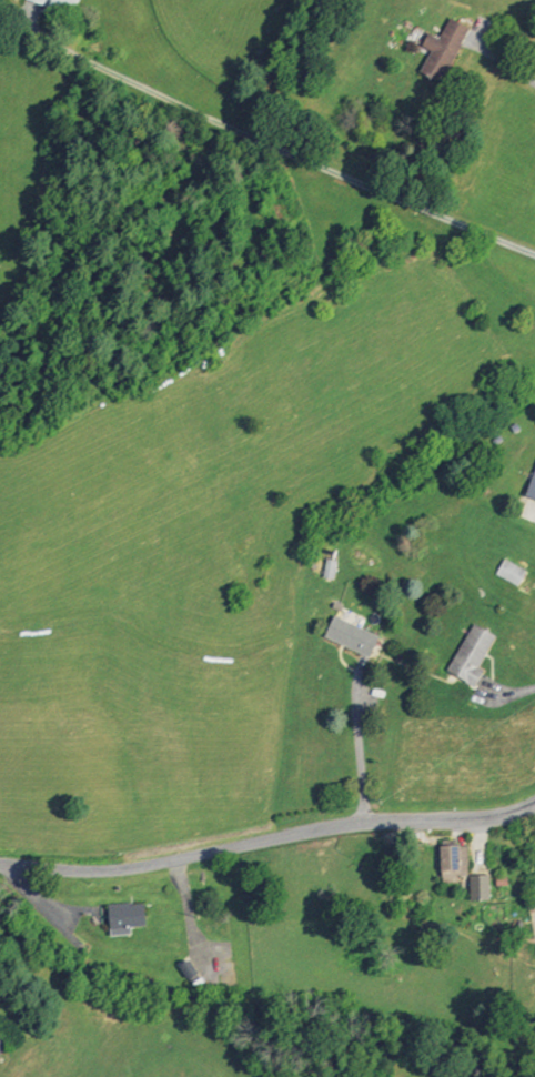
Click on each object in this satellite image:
building: (40, 1)
building: (60, 3)
building: (444, 47)
road: (507, 66)
road: (279, 149)
building: (531, 485)
road: (533, 512)
building: (329, 568)
building: (509, 571)
building: (349, 635)
building: (468, 654)
road: (506, 694)
road: (357, 739)
road: (267, 841)
building: (450, 863)
building: (534, 884)
building: (477, 887)
road: (37, 900)
building: (124, 917)
road: (190, 919)

